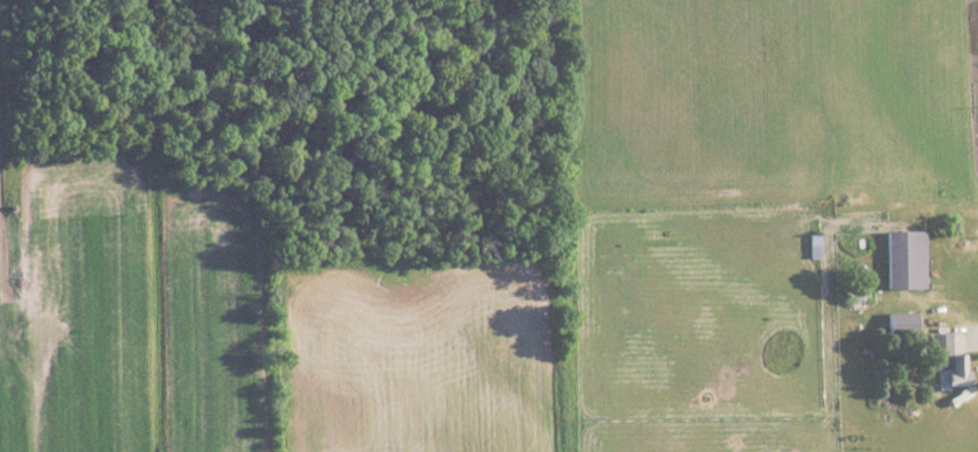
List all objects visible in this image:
building: (812, 245)
building: (901, 259)
building: (899, 323)
building: (941, 360)

